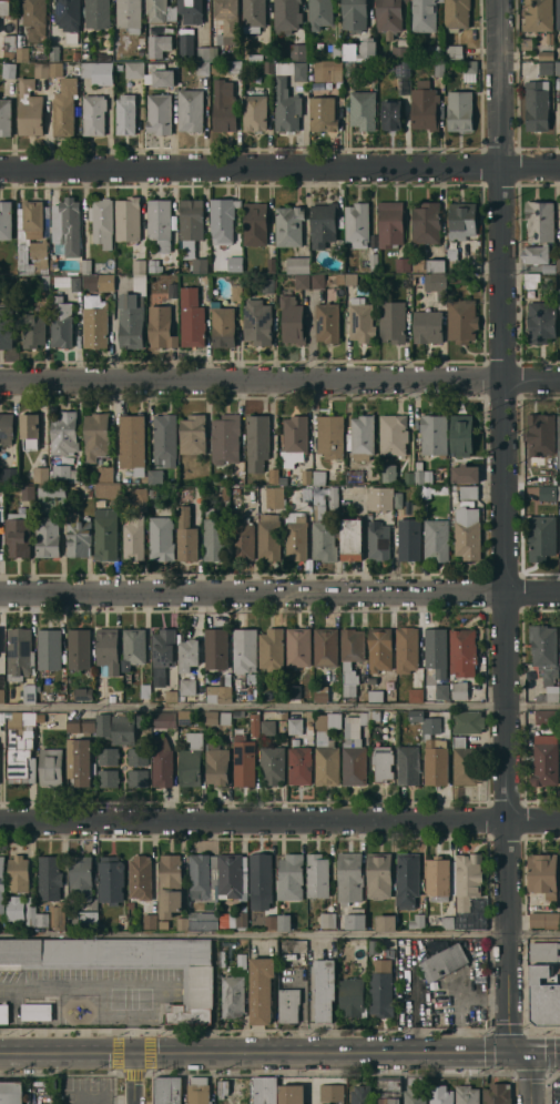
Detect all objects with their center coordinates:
building: (4, 8)
building: (192, 10)
building: (161, 11)
building: (98, 13)
building: (320, 13)
building: (68, 14)
building: (130, 14)
building: (355, 14)
building: (457, 14)
building: (558, 14)
building: (287, 16)
building: (390, 16)
building: (424, 16)
building: (539, 16)
building: (34, 18)
building: (253, 18)
building: (227, 20)
building: (72, 38)
building: (550, 38)
building: (10, 40)
building: (186, 41)
building: (253, 45)
building: (155, 47)
building: (267, 50)
building: (337, 50)
building: (362, 50)
building: (400, 50)
building: (298, 51)
building: (439, 52)
building: (455, 52)
building: (22, 53)
building: (55, 53)
building: (204, 53)
building: (214, 53)
building: (77, 55)
building: (86, 55)
building: (546, 55)
building: (256, 57)
building: (235, 67)
building: (269, 67)
building: (203, 68)
building: (349, 68)
building: (547, 68)
building: (558, 68)
building: (57, 69)
building: (439, 69)
building: (11, 70)
building: (41, 70)
building: (134, 70)
building: (298, 70)
building: (327, 70)
building: (469, 70)
building: (99, 72)
building: (161, 74)
building: (401, 75)
building: (537, 104)
building: (224, 105)
building: (287, 107)
building: (425, 107)
building: (64, 108)
building: (30, 109)
building: (191, 110)
building: (363, 110)
building: (460, 110)
building: (255, 112)
building: (160, 113)
building: (323, 113)
building: (94, 114)
building: (126, 114)
building: (391, 114)
building: (6, 117)
road: (279, 168)
building: (129, 219)
building: (6, 220)
building: (192, 220)
building: (223, 220)
building: (462, 220)
building: (540, 221)
building: (102, 222)
building: (357, 223)
building: (427, 223)
building: (160, 224)
building: (255, 224)
building: (390, 224)
building: (68, 225)
building: (289, 226)
building: (326, 226)
building: (30, 237)
building: (536, 254)
building: (374, 262)
building: (454, 262)
building: (298, 264)
building: (403, 264)
building: (201, 265)
building: (230, 265)
building: (272, 265)
building: (429, 265)
building: (88, 266)
building: (140, 266)
building: (558, 266)
building: (155, 269)
building: (549, 269)
building: (456, 277)
building: (352, 278)
building: (53, 280)
building: (407, 280)
building: (415, 280)
building: (531, 280)
building: (71, 281)
building: (302, 281)
building: (318, 281)
building: (99, 282)
building: (37, 283)
building: (437, 284)
building: (268, 285)
building: (363, 288)
building: (172, 290)
building: (237, 292)
building: (133, 314)
building: (292, 315)
building: (192, 317)
building: (362, 320)
building: (462, 321)
building: (62, 322)
building: (95, 322)
building: (257, 322)
building: (327, 322)
building: (393, 322)
building: (541, 322)
building: (223, 325)
building: (428, 326)
building: (161, 327)
building: (6, 328)
building: (33, 330)
road: (279, 379)
building: (7, 428)
building: (29, 429)
building: (65, 433)
building: (193, 434)
building: (394, 434)
building: (462, 434)
building: (435, 435)
building: (96, 436)
building: (330, 436)
building: (541, 436)
building: (362, 437)
building: (132, 439)
building: (165, 439)
building: (294, 439)
building: (559, 440)
building: (258, 442)
building: (228, 445)
building: (68, 473)
building: (40, 474)
building: (105, 474)
building: (389, 474)
building: (466, 474)
building: (9, 475)
building: (274, 475)
building: (421, 475)
building: (155, 476)
building: (355, 476)
building: (438, 476)
building: (296, 477)
building: (319, 477)
building: (409, 477)
building: (108, 489)
building: (316, 489)
building: (52, 490)
building: (434, 490)
building: (28, 492)
building: (468, 492)
building: (153, 493)
building: (226, 493)
building: (559, 493)
building: (140, 494)
building: (307, 494)
building: (275, 497)
building: (381, 498)
building: (333, 499)
building: (399, 500)
building: (319, 507)
road: (502, 526)
building: (468, 533)
building: (106, 534)
building: (79, 535)
building: (186, 535)
building: (410, 535)
building: (214, 536)
building: (269, 536)
building: (18, 537)
building: (48, 537)
building: (542, 537)
building: (134, 538)
building: (162, 538)
building: (243, 538)
building: (297, 539)
building: (353, 539)
building: (437, 539)
building: (378, 540)
building: (325, 541)
road: (279, 590)
building: (299, 646)
building: (134, 647)
building: (326, 647)
building: (217, 648)
building: (273, 648)
building: (380, 648)
building: (49, 649)
building: (79, 649)
building: (109, 650)
building: (245, 650)
building: (407, 650)
building: (436, 650)
building: (464, 652)
building: (546, 652)
building: (20, 654)
building: (163, 655)
building: (189, 655)
building: (352, 657)
building: (227, 679)
building: (187, 687)
building: (145, 690)
building: (460, 690)
building: (294, 691)
building: (442, 691)
building: (322, 692)
building: (30, 693)
building: (83, 693)
building: (220, 693)
building: (416, 695)
building: (2, 696)
building: (172, 696)
building: (49, 697)
building: (61, 697)
building: (75, 697)
building: (553, 697)
building: (133, 698)
road: (279, 706)
building: (9, 715)
building: (416, 716)
building: (2, 717)
building: (375, 717)
building: (547, 717)
building: (29, 718)
building: (185, 718)
building: (212, 718)
building: (226, 718)
building: (165, 720)
building: (143, 721)
building: (468, 722)
building: (104, 725)
building: (254, 725)
building: (73, 726)
building: (295, 726)
building: (89, 727)
building: (268, 727)
building: (118, 729)
building: (129, 729)
building: (327, 749)
building: (355, 751)
building: (20, 753)
building: (435, 753)
building: (109, 756)
building: (138, 756)
building: (244, 759)
building: (192, 760)
building: (546, 760)
building: (83, 762)
building: (162, 762)
building: (217, 763)
building: (274, 763)
building: (466, 763)
building: (383, 764)
building: (409, 764)
building: (301, 766)
building: (51, 767)
building: (109, 778)
building: (138, 778)
road: (279, 820)
building: (18, 874)
building: (543, 874)
building: (204, 875)
building: (318, 875)
building: (379, 875)
building: (140, 877)
building: (233, 877)
building: (291, 877)
building: (349, 877)
building: (49, 878)
building: (81, 878)
building: (408, 879)
building: (438, 879)
building: (468, 879)
building: (111, 880)
building: (261, 881)
building: (1, 884)
building: (171, 884)
building: (131, 904)
building: (16, 909)
building: (31, 912)
building: (58, 916)
building: (238, 919)
building: (355, 919)
building: (544, 919)
building: (43, 920)
building: (89, 920)
building: (151, 920)
building: (271, 920)
building: (328, 920)
building: (434, 920)
building: (204, 921)
building: (285, 922)
building: (386, 922)
building: (418, 922)
building: (448, 922)
building: (182, 923)
road: (279, 934)
building: (374, 946)
building: (544, 951)
building: (242, 958)
building: (442, 962)
building: (125, 963)
road: (94, 986)
building: (325, 989)
building: (381, 989)
building: (262, 990)
building: (544, 995)
building: (233, 996)
building: (352, 996)
road: (459, 1001)
building: (288, 1004)
building: (37, 1011)
building: (4, 1012)
road: (279, 1051)
traffic signals: (135, 1052)
traffic signals: (510, 1052)
traffic signals: (529, 1052)
road: (135, 1077)
road: (529, 1077)
building: (223, 1087)
building: (266, 1090)
building: (169, 1091)
building: (198, 1091)
building: (389, 1091)
building: (11, 1092)
building: (332, 1093)
building: (498, 1093)
building: (292, 1094)
building: (415, 1094)
building: (363, 1095)
building: (441, 1095)
building: (468, 1095)
building: (559, 1103)

